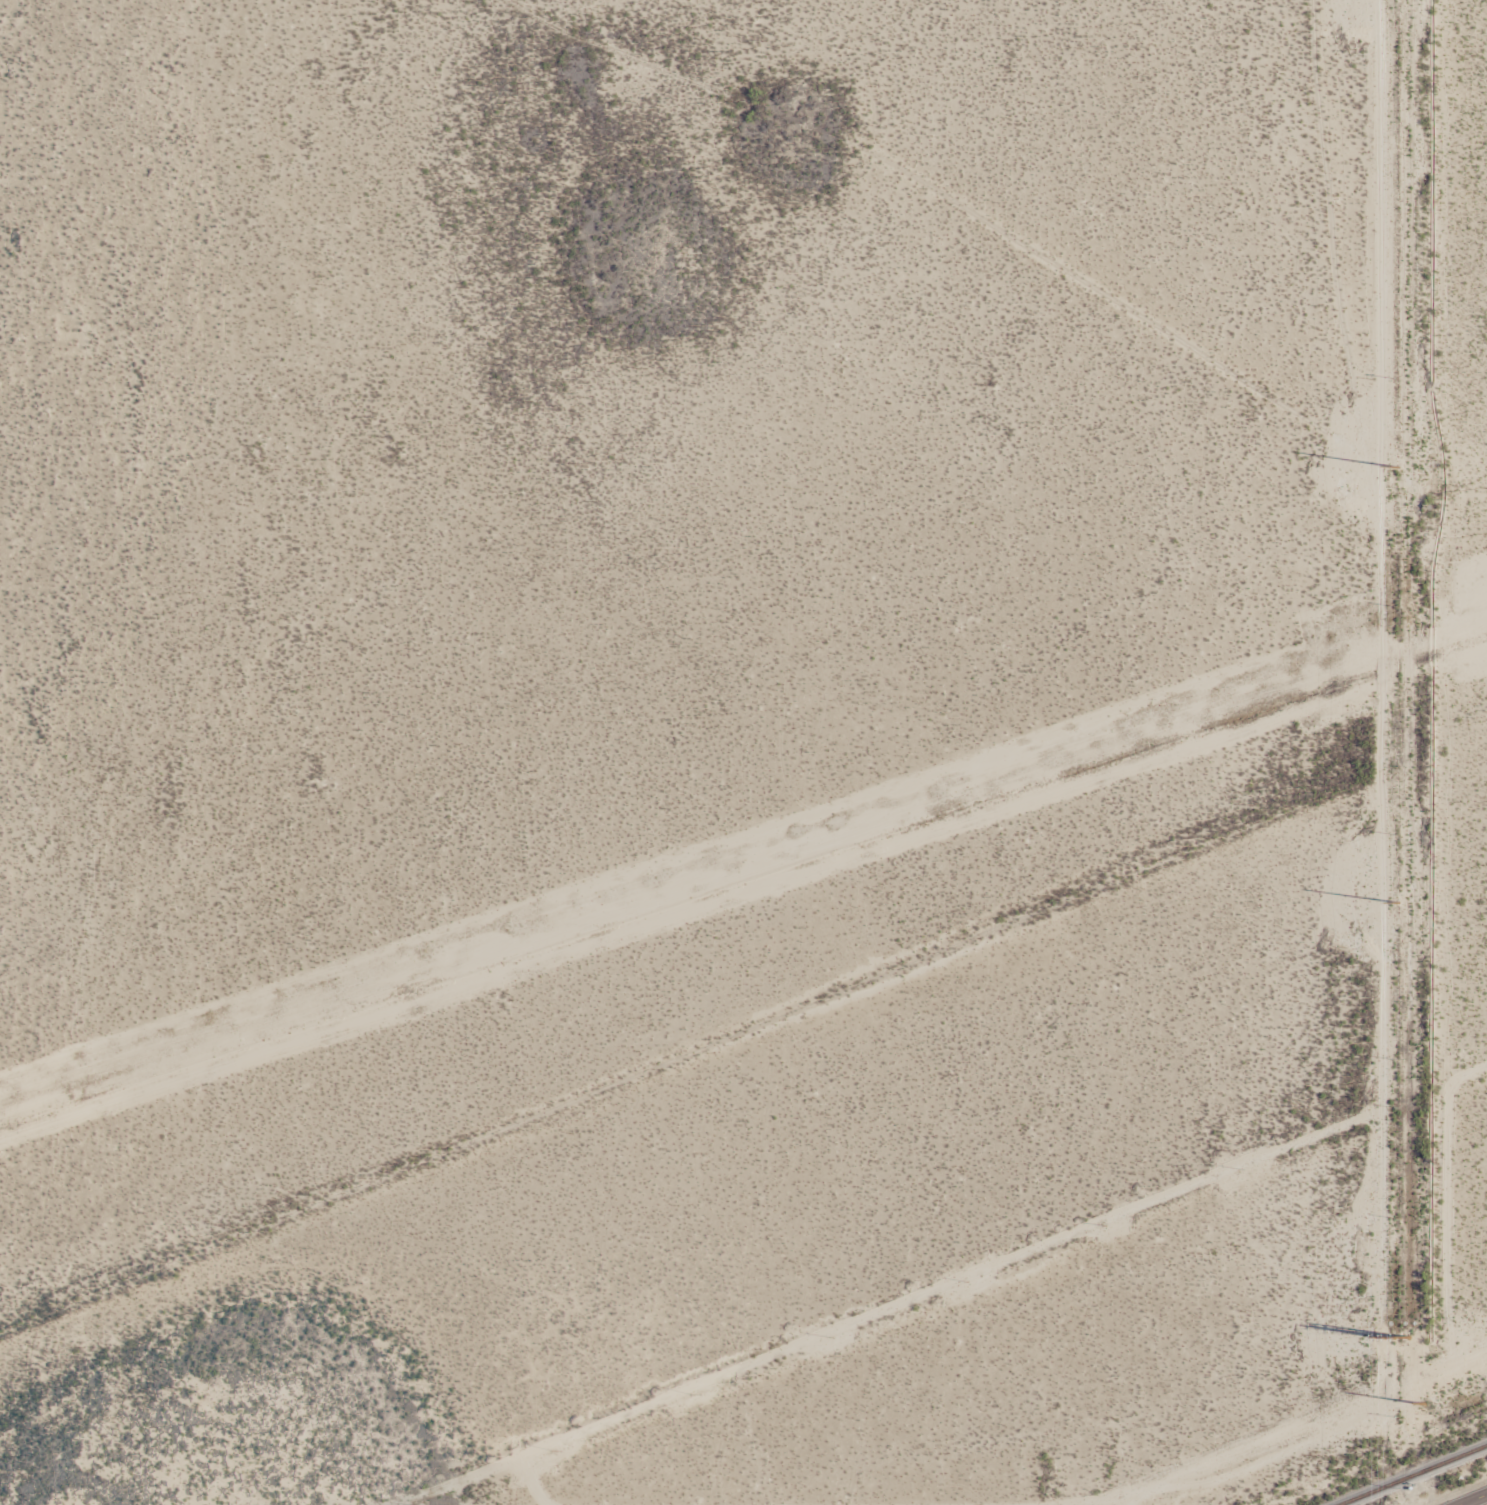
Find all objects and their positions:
power tower: (1391, 1339)
road: (1463, 1360)
railway: (1414, 1475)
road: (1472, 1499)

